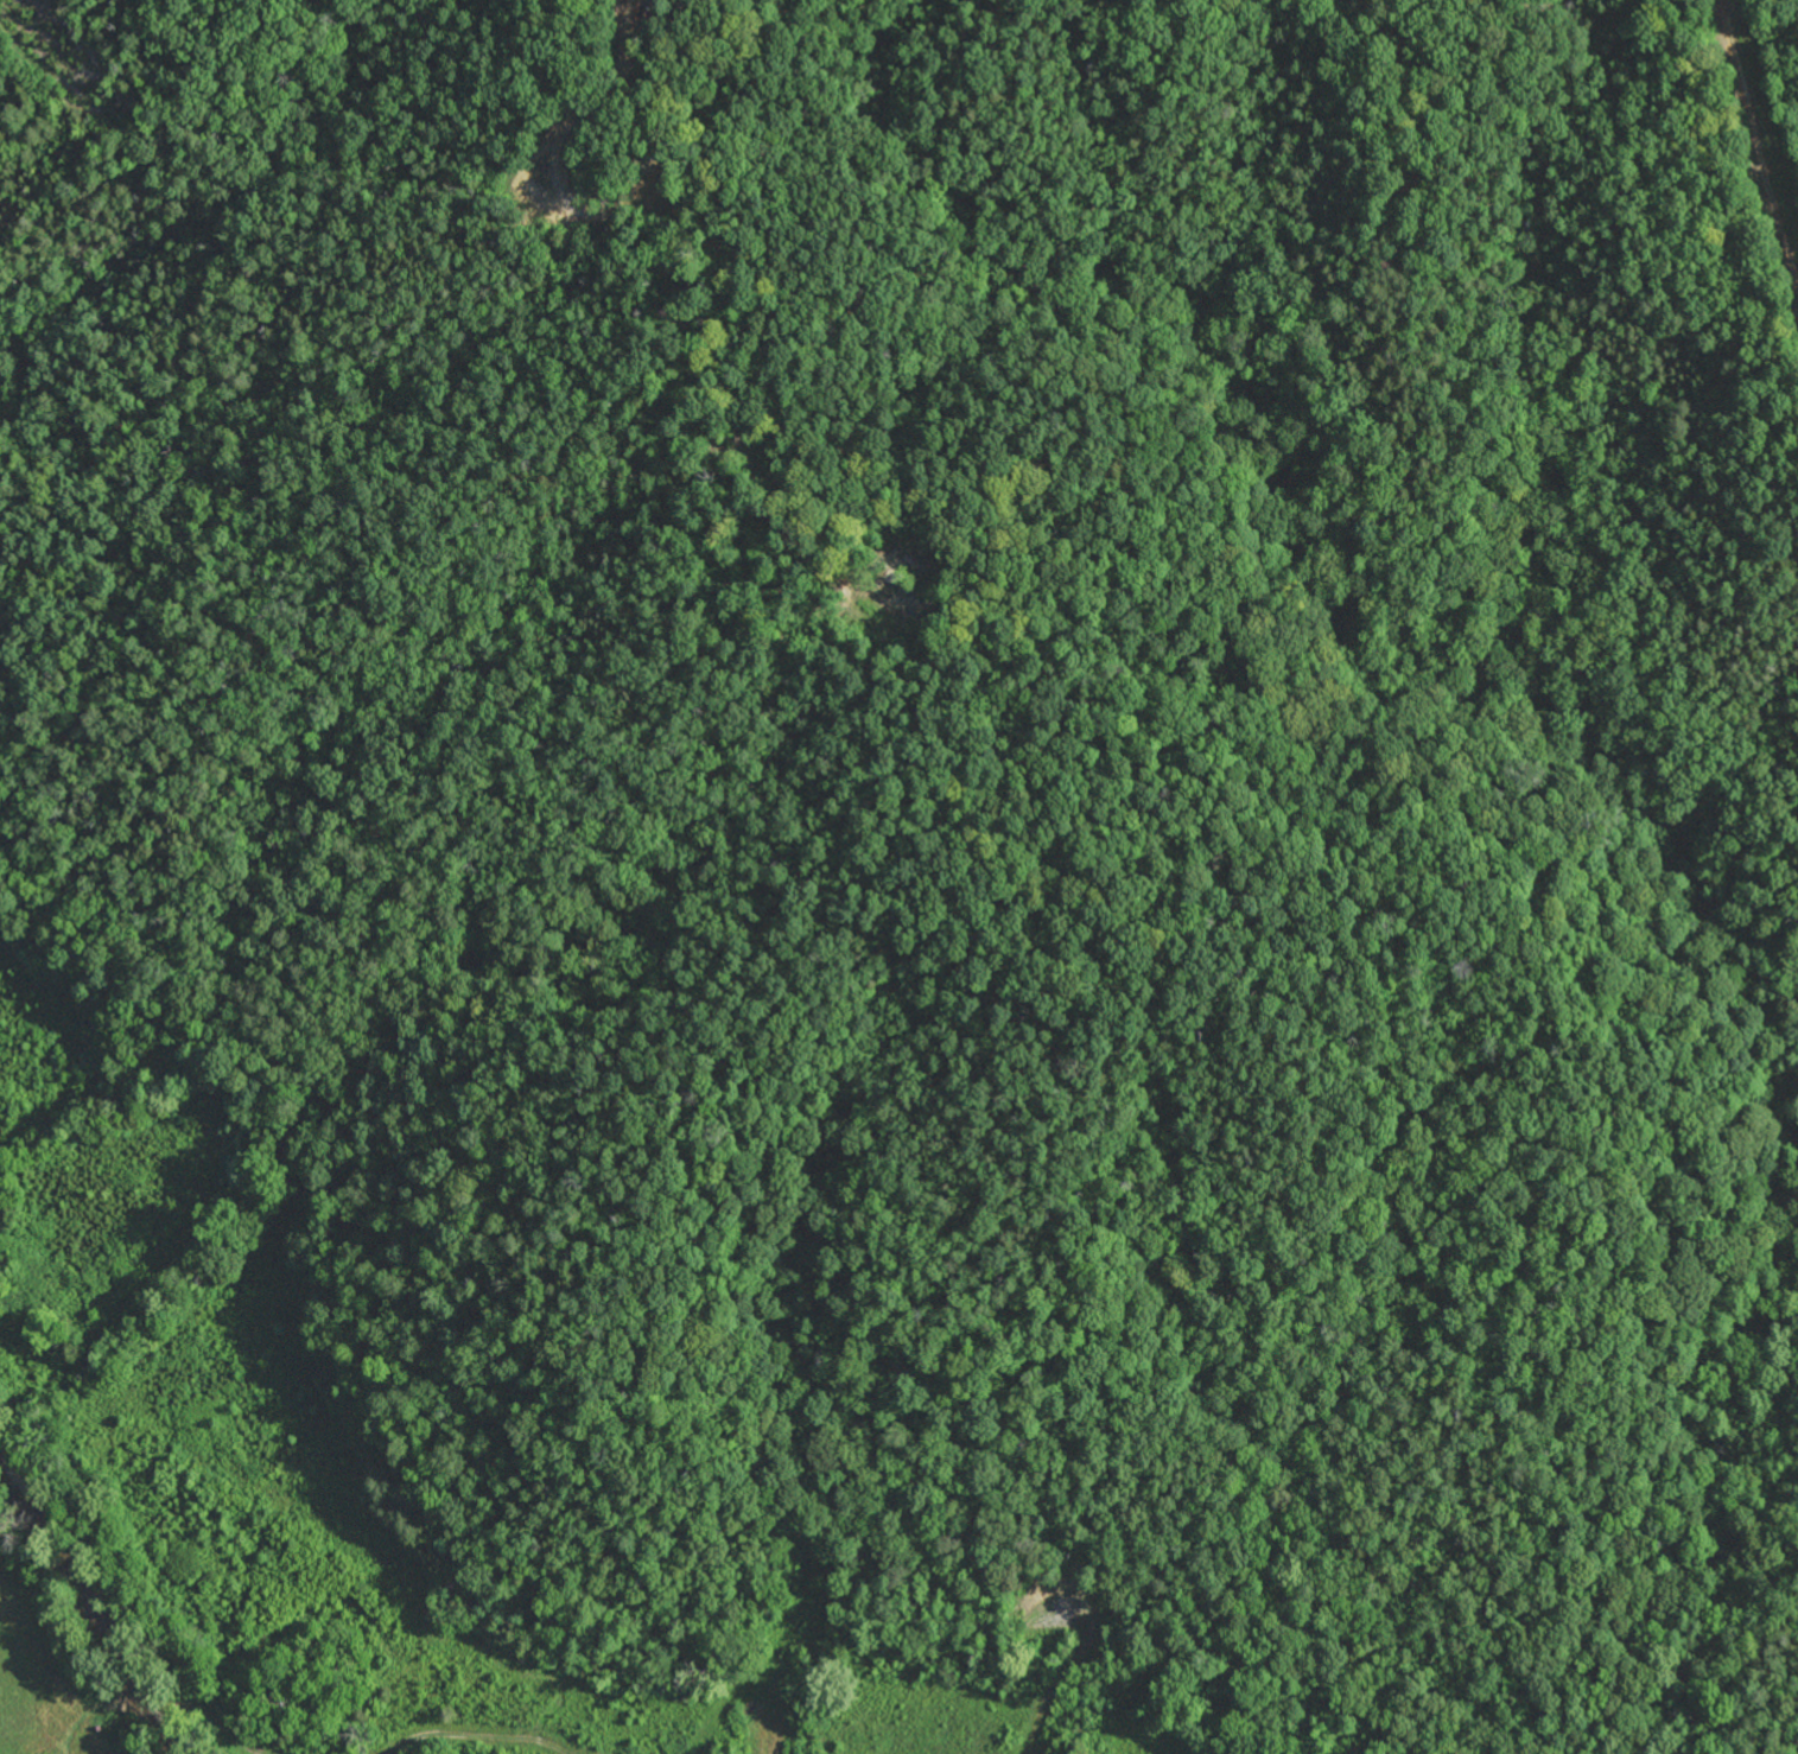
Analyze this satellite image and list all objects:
road: (155, 1571)

